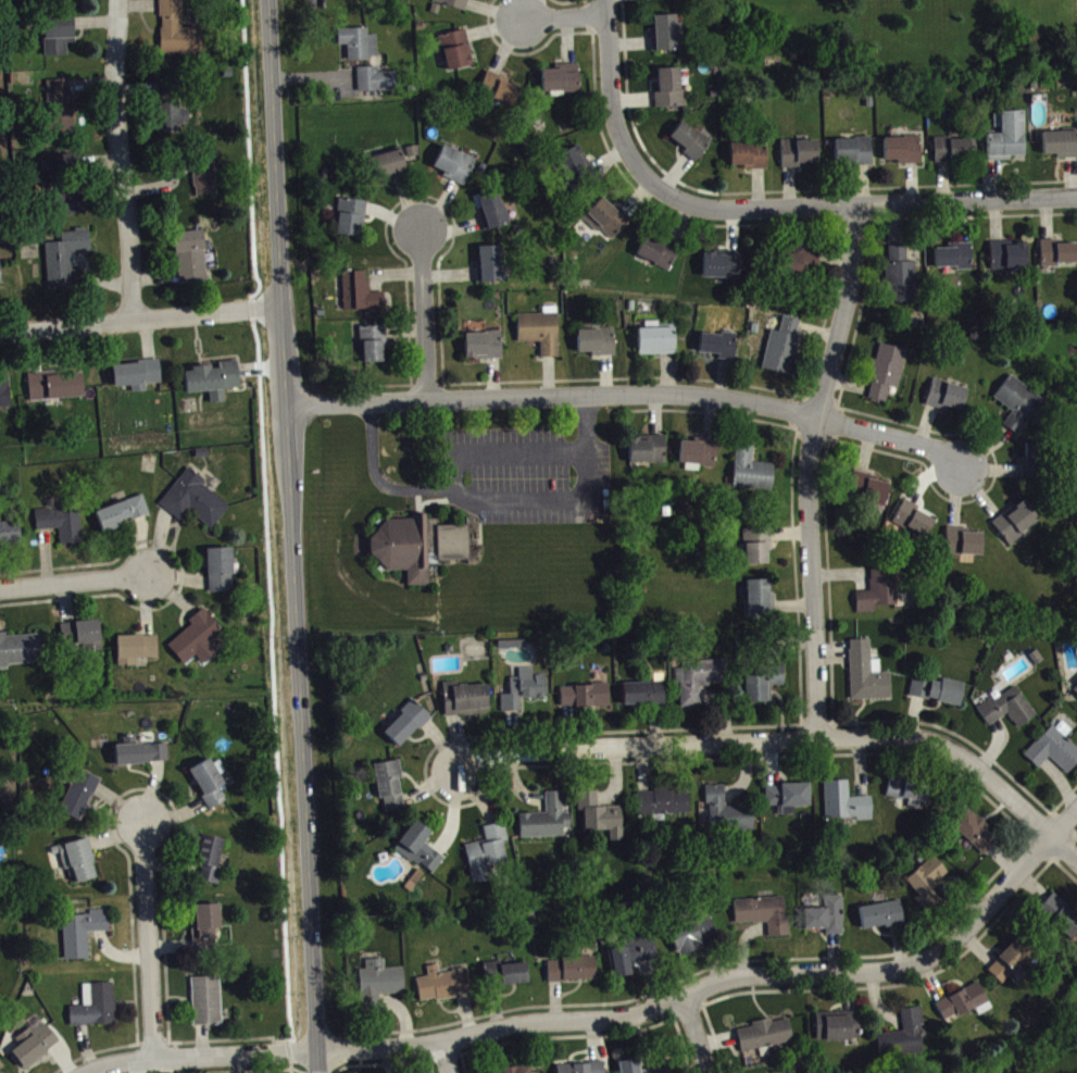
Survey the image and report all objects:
building: (652, 0)
building: (349, 1)
building: (454, 5)
road: (564, 14)
building: (175, 28)
building: (54, 32)
building: (665, 38)
building: (360, 48)
building: (458, 54)
building: (563, 83)
building: (378, 84)
road: (609, 90)
building: (671, 92)
building: (500, 93)
building: (58, 107)
building: (170, 114)
building: (1007, 140)
building: (690, 145)
building: (1061, 148)
building: (904, 154)
building: (956, 154)
building: (854, 155)
building: (800, 158)
road: (120, 159)
building: (750, 160)
building: (575, 169)
building: (456, 170)
building: (201, 171)
building: (390, 171)
building: (63, 179)
road: (853, 203)
building: (492, 214)
building: (352, 222)
building: (609, 223)
building: (63, 255)
building: (189, 255)
building: (659, 255)
building: (1059, 258)
building: (1010, 260)
building: (955, 262)
building: (802, 266)
building: (490, 269)
building: (723, 270)
building: (1, 278)
building: (902, 280)
building: (363, 298)
road: (421, 313)
road: (137, 317)
building: (542, 335)
building: (658, 345)
building: (598, 346)
building: (374, 349)
building: (717, 349)
building: (485, 350)
building: (784, 352)
building: (135, 371)
building: (888, 375)
building: (211, 377)
building: (52, 383)
building: (3, 390)
road: (628, 392)
building: (948, 400)
building: (1019, 408)
road: (502, 452)
building: (649, 454)
building: (699, 457)
building: (1034, 465)
road: (807, 469)
parking lot: (526, 474)
building: (752, 476)
building: (871, 494)
building: (191, 498)
road: (491, 498)
building: (120, 511)
building: (59, 522)
building: (1017, 526)
building: (911, 528)
building: (8, 529)
road: (290, 536)
building: (417, 545)
building: (965, 547)
building: (759, 550)
building: (217, 567)
road: (183, 573)
road: (75, 581)
building: (880, 596)
building: (760, 602)
building: (80, 632)
building: (195, 636)
building: (20, 646)
building: (133, 646)
building: (868, 677)
building: (701, 684)
building: (765, 689)
building: (525, 695)
building: (1076, 695)
building: (939, 696)
building: (646, 698)
building: (586, 700)
building: (466, 703)
building: (1010, 712)
building: (408, 728)
road: (786, 740)
building: (138, 751)
building: (1056, 752)
building: (208, 779)
building: (391, 789)
building: (76, 794)
building: (911, 797)
building: (789, 802)
building: (664, 807)
building: (847, 807)
road: (109, 812)
building: (727, 816)
building: (602, 820)
building: (548, 823)
road: (1066, 825)
building: (976, 836)
building: (421, 852)
building: (208, 856)
building: (75, 857)
building: (489, 859)
building: (929, 885)
building: (765, 919)
building: (884, 920)
building: (828, 921)
building: (1061, 922)
building: (202, 924)
building: (79, 929)
building: (696, 940)
road: (151, 944)
building: (635, 958)
building: (1013, 966)
building: (573, 974)
building: (509, 980)
building: (380, 988)
building: (444, 988)
building: (203, 998)
building: (92, 1003)
building: (965, 1008)
road: (601, 1019)
building: (839, 1031)
road: (696, 1036)
road: (230, 1038)
building: (767, 1039)
building: (906, 1039)
building: (33, 1041)
road: (440, 1058)
building: (631, 1069)
building: (584, 1070)
road: (223, 1071)
building: (0, 1072)
building: (523, 1072)
building: (665, 1072)

